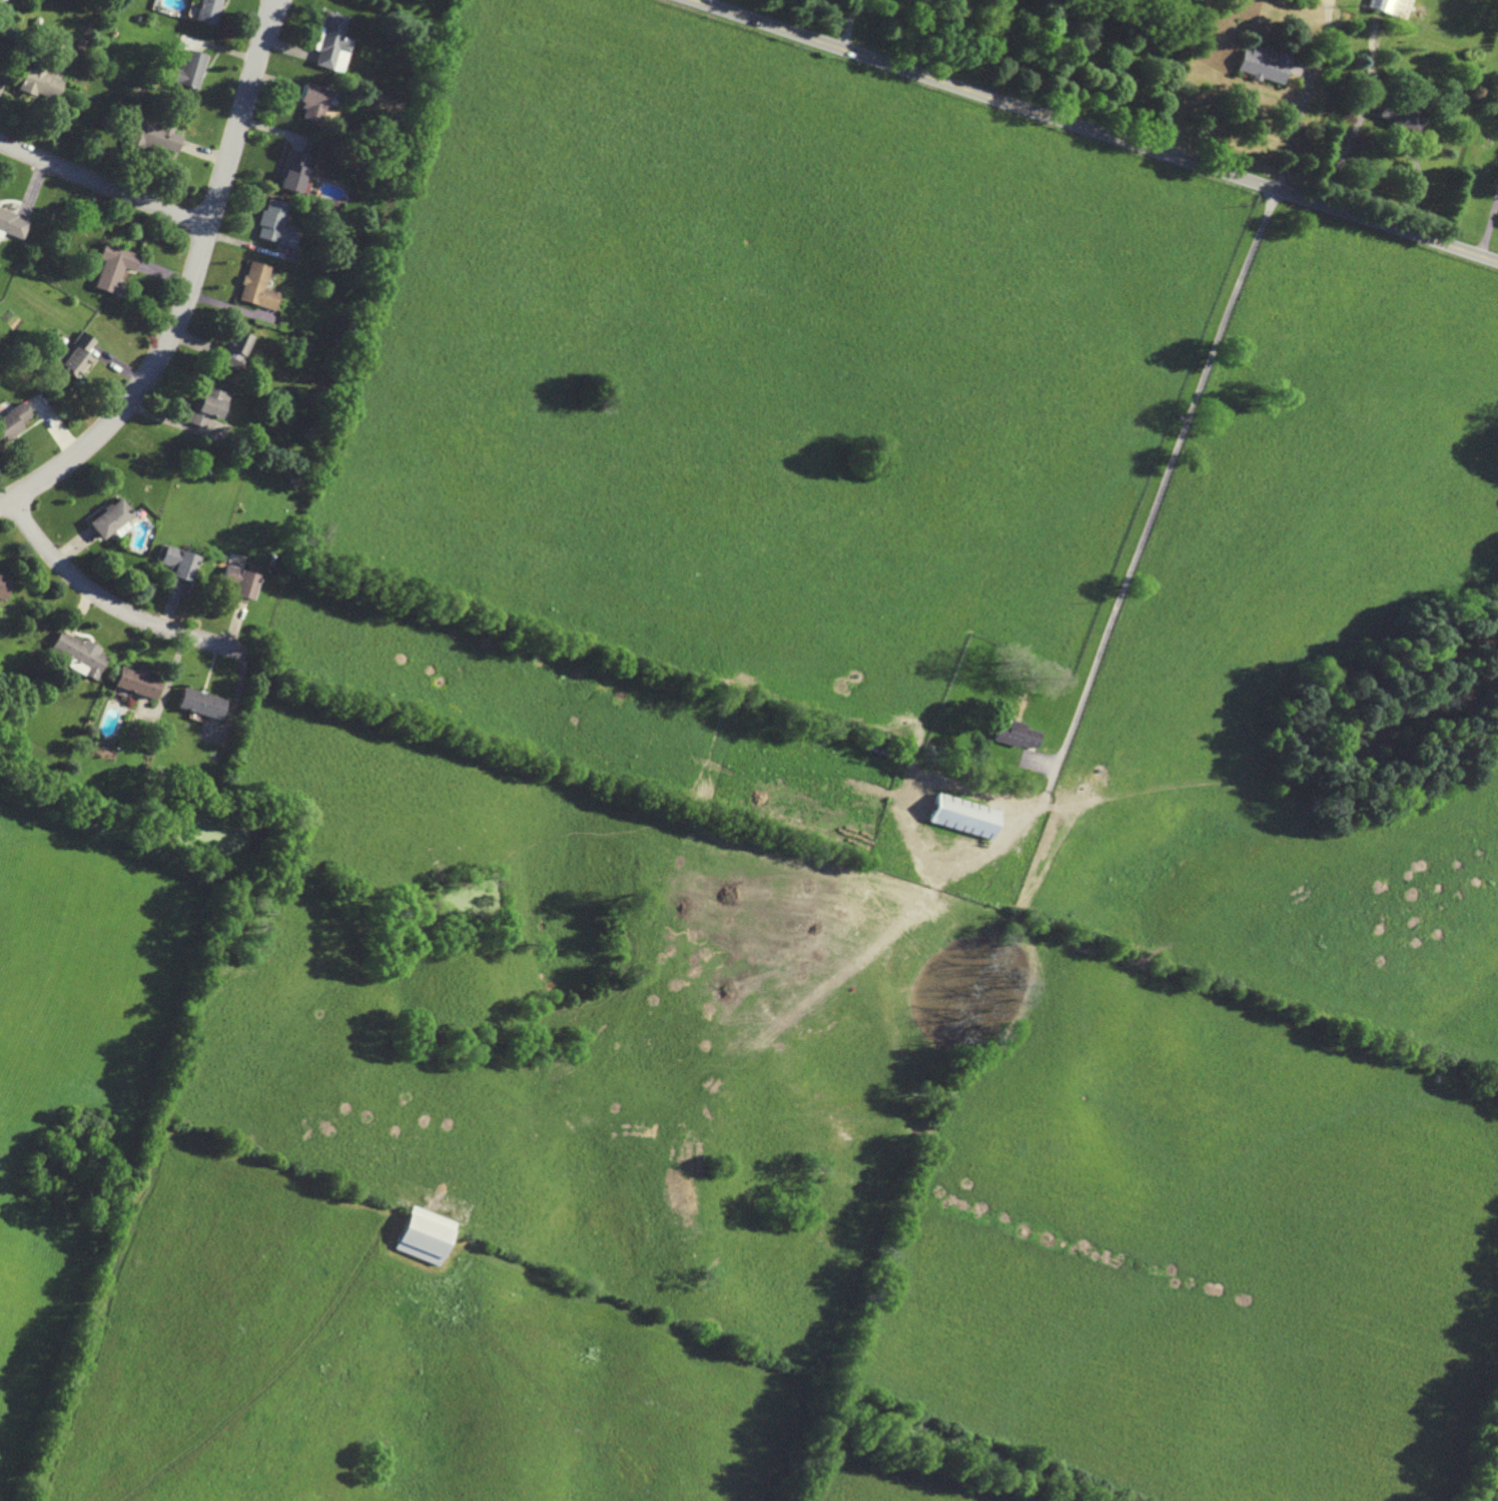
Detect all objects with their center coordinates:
road: (695, 0)
road: (276, 3)
road: (279, 3)
building: (1392, 7)
building: (209, 11)
road: (851, 25)
road: (915, 35)
building: (334, 42)
building: (1266, 64)
building: (189, 69)
building: (41, 84)
building: (314, 102)
building: (1399, 117)
road: (1297, 128)
road: (1095, 130)
building: (153, 136)
building: (295, 171)
road: (105, 185)
building: (0, 199)
building: (13, 224)
building: (277, 224)
building: (116, 268)
building: (259, 286)
road: (191, 292)
building: (236, 349)
building: (76, 355)
building: (210, 405)
building: (13, 421)
road: (1153, 518)
building: (113, 519)
building: (180, 562)
building: (242, 580)
building: (5, 586)
road: (110, 603)
building: (81, 654)
building: (138, 682)
building: (202, 703)
building: (1017, 734)
building: (963, 816)
building: (425, 1235)

